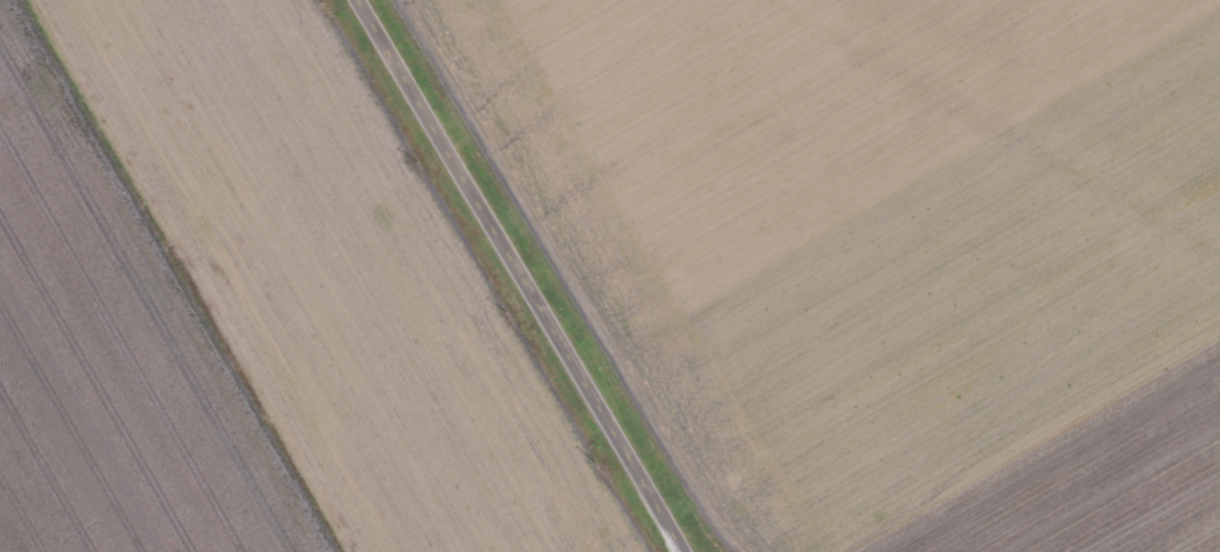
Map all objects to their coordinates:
road: (524, 275)
road: (1026, 438)

